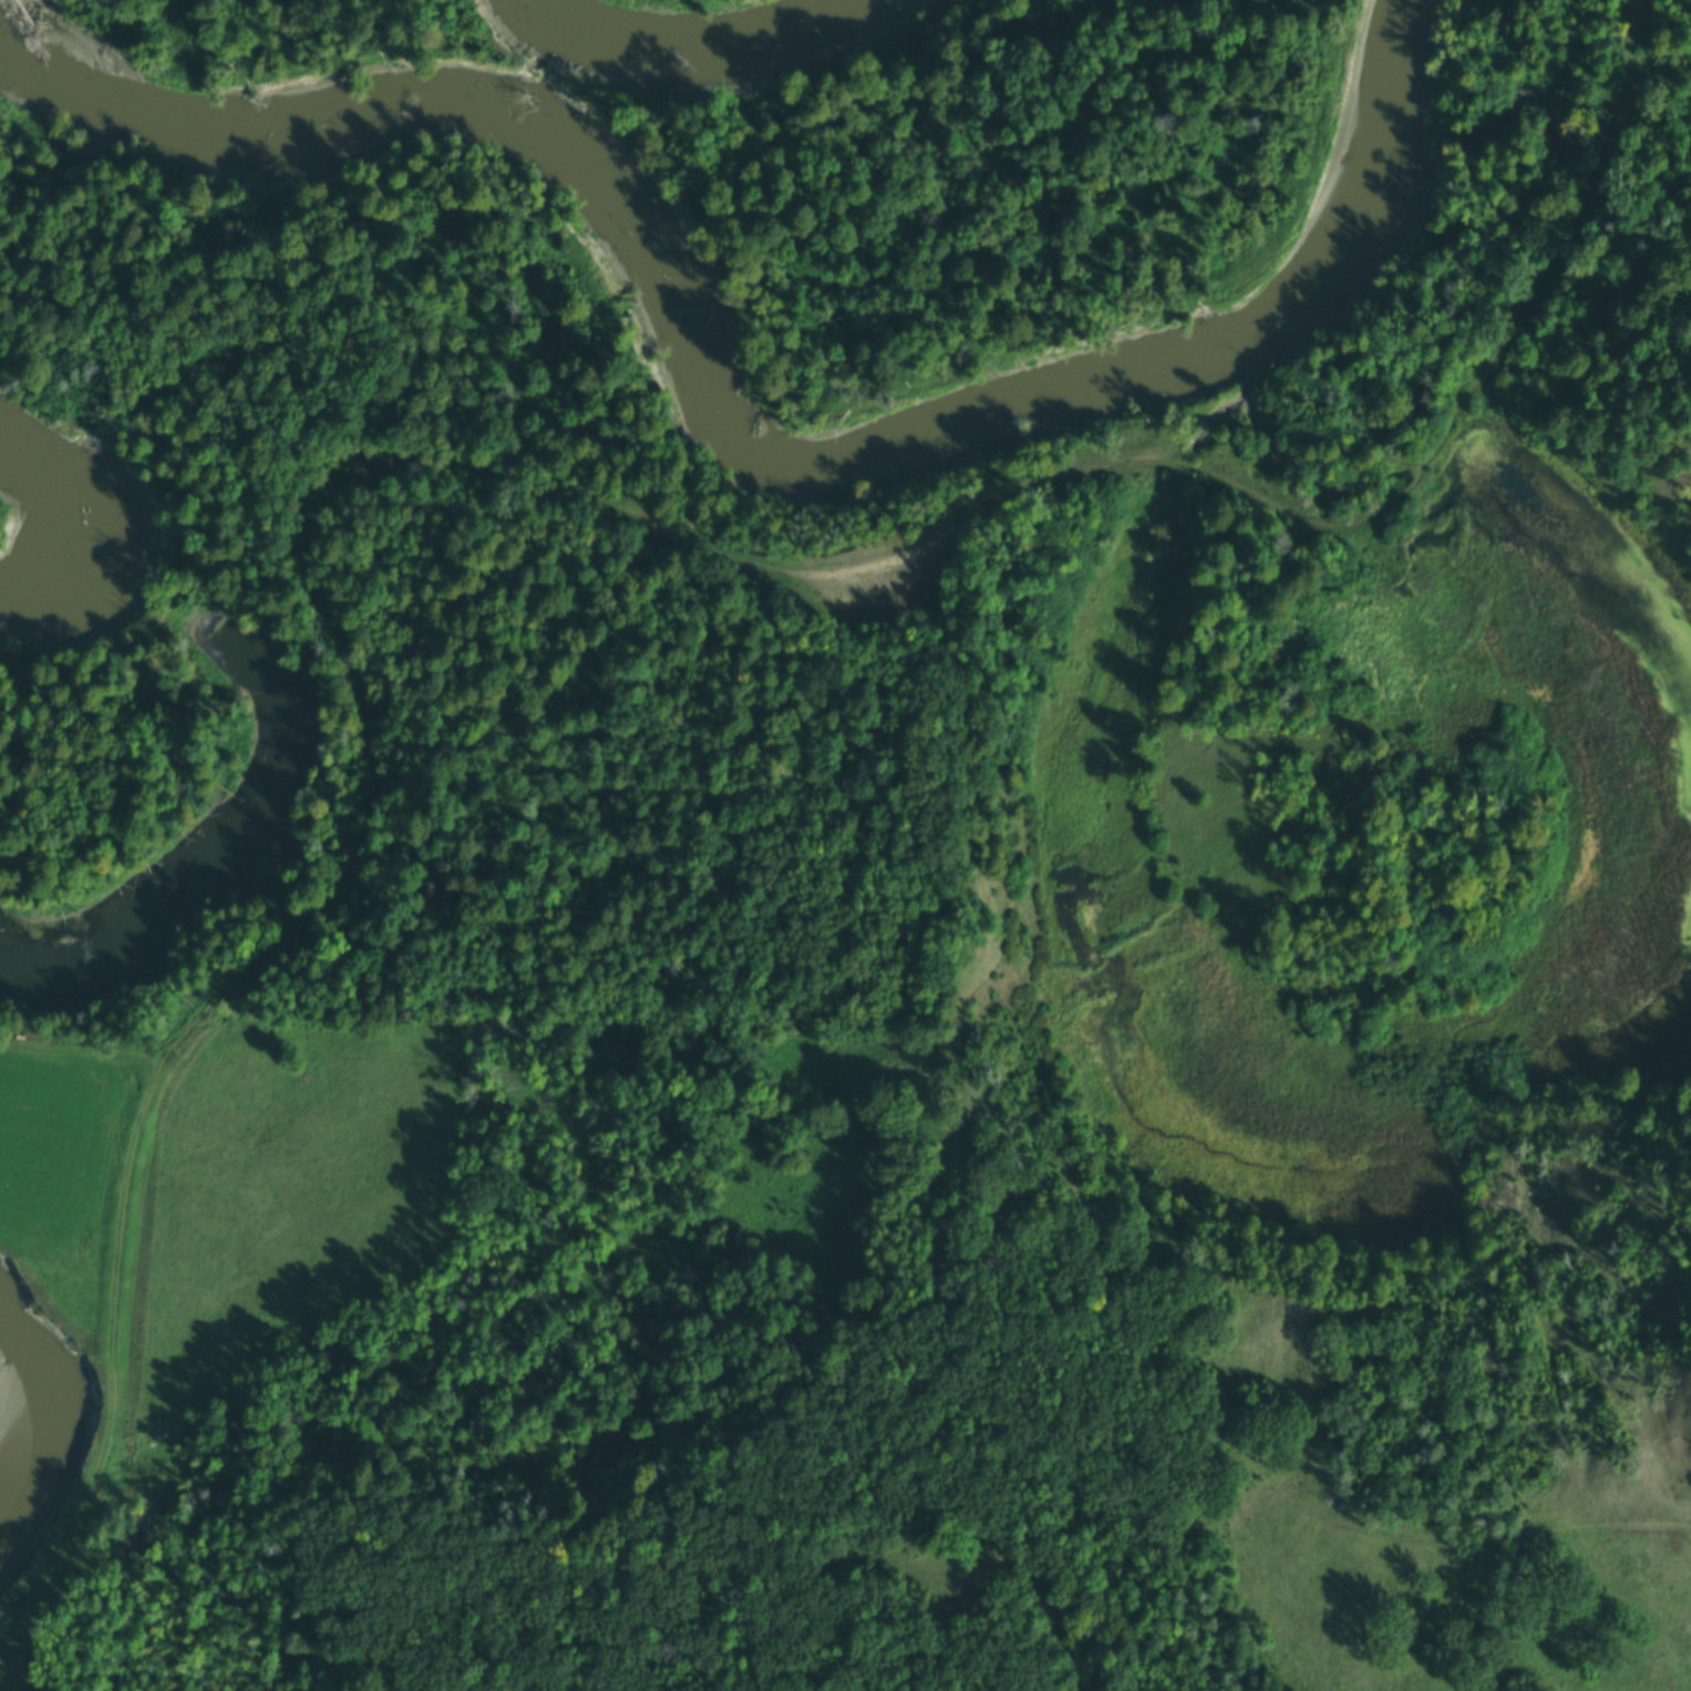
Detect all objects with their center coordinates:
river: (681, 10)
river: (720, 415)
road: (525, 488)
river: (34, 528)

